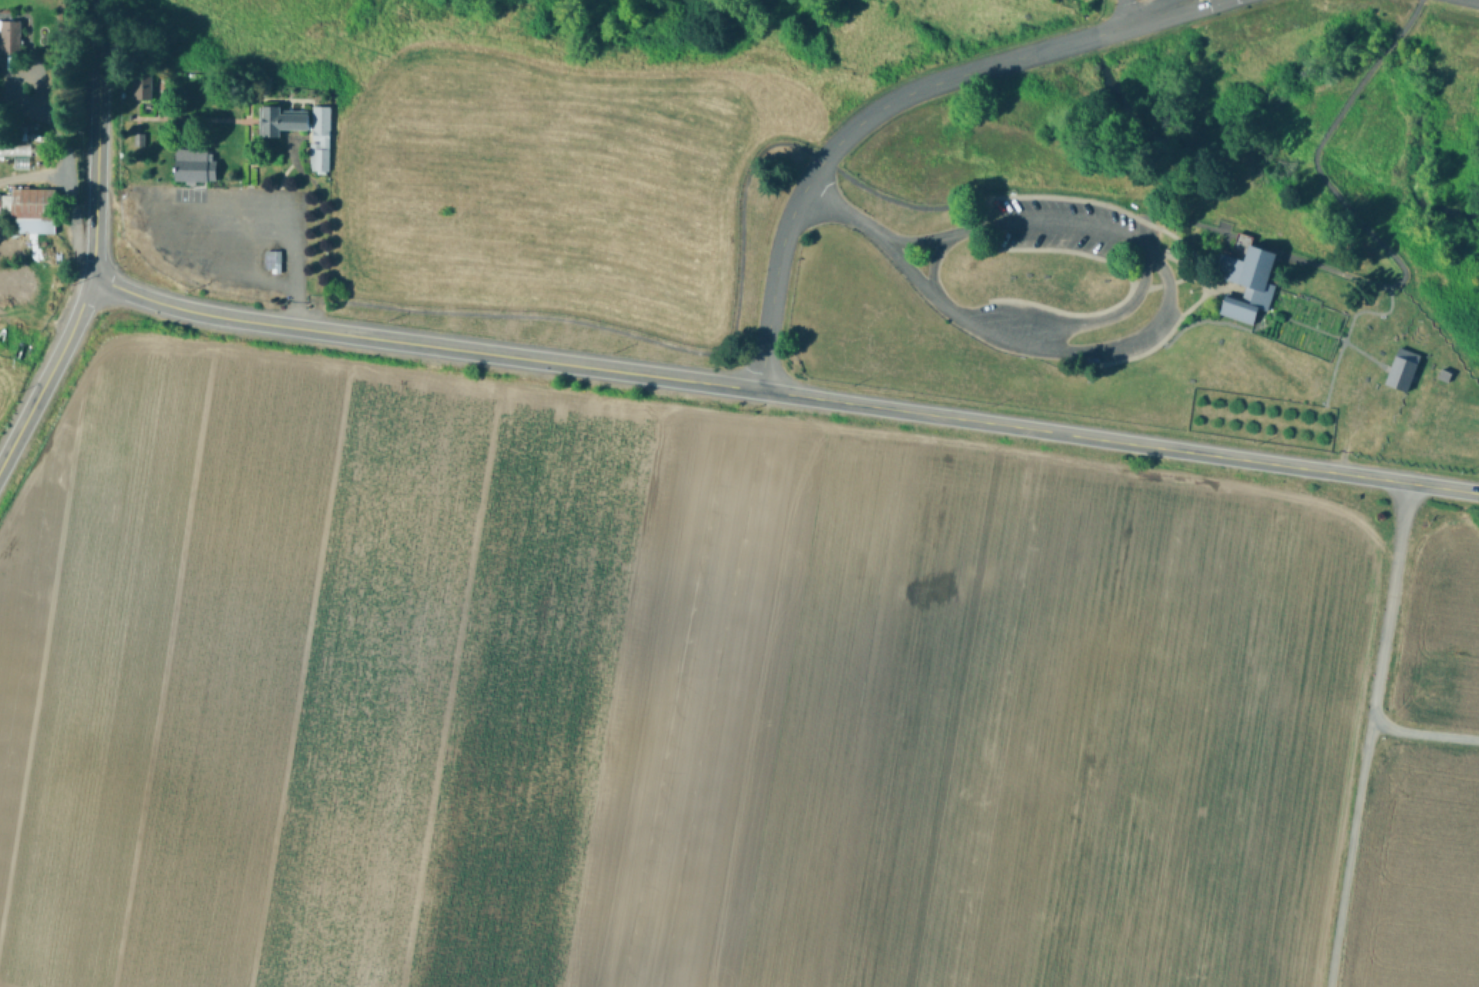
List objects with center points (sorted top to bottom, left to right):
road: (1122, 13)
road: (1152, 13)
road: (103, 24)
building: (9, 33)
building: (1, 86)
building: (145, 87)
building: (276, 119)
road: (853, 126)
building: (318, 138)
building: (23, 140)
road: (96, 162)
road: (932, 205)
building: (30, 210)
road: (840, 210)
road: (1032, 221)
parking lot: (1067, 224)
parking lot: (220, 236)
building: (272, 260)
road: (1199, 276)
road: (294, 280)
building: (1245, 283)
road: (1185, 304)
parking lot: (1006, 327)
road: (1329, 331)
building: (1400, 369)
road: (49, 373)
road: (783, 392)
building: (1343, 662)
crop: (702, 700)
road: (1422, 728)
road: (1362, 734)
building: (1248, 963)

